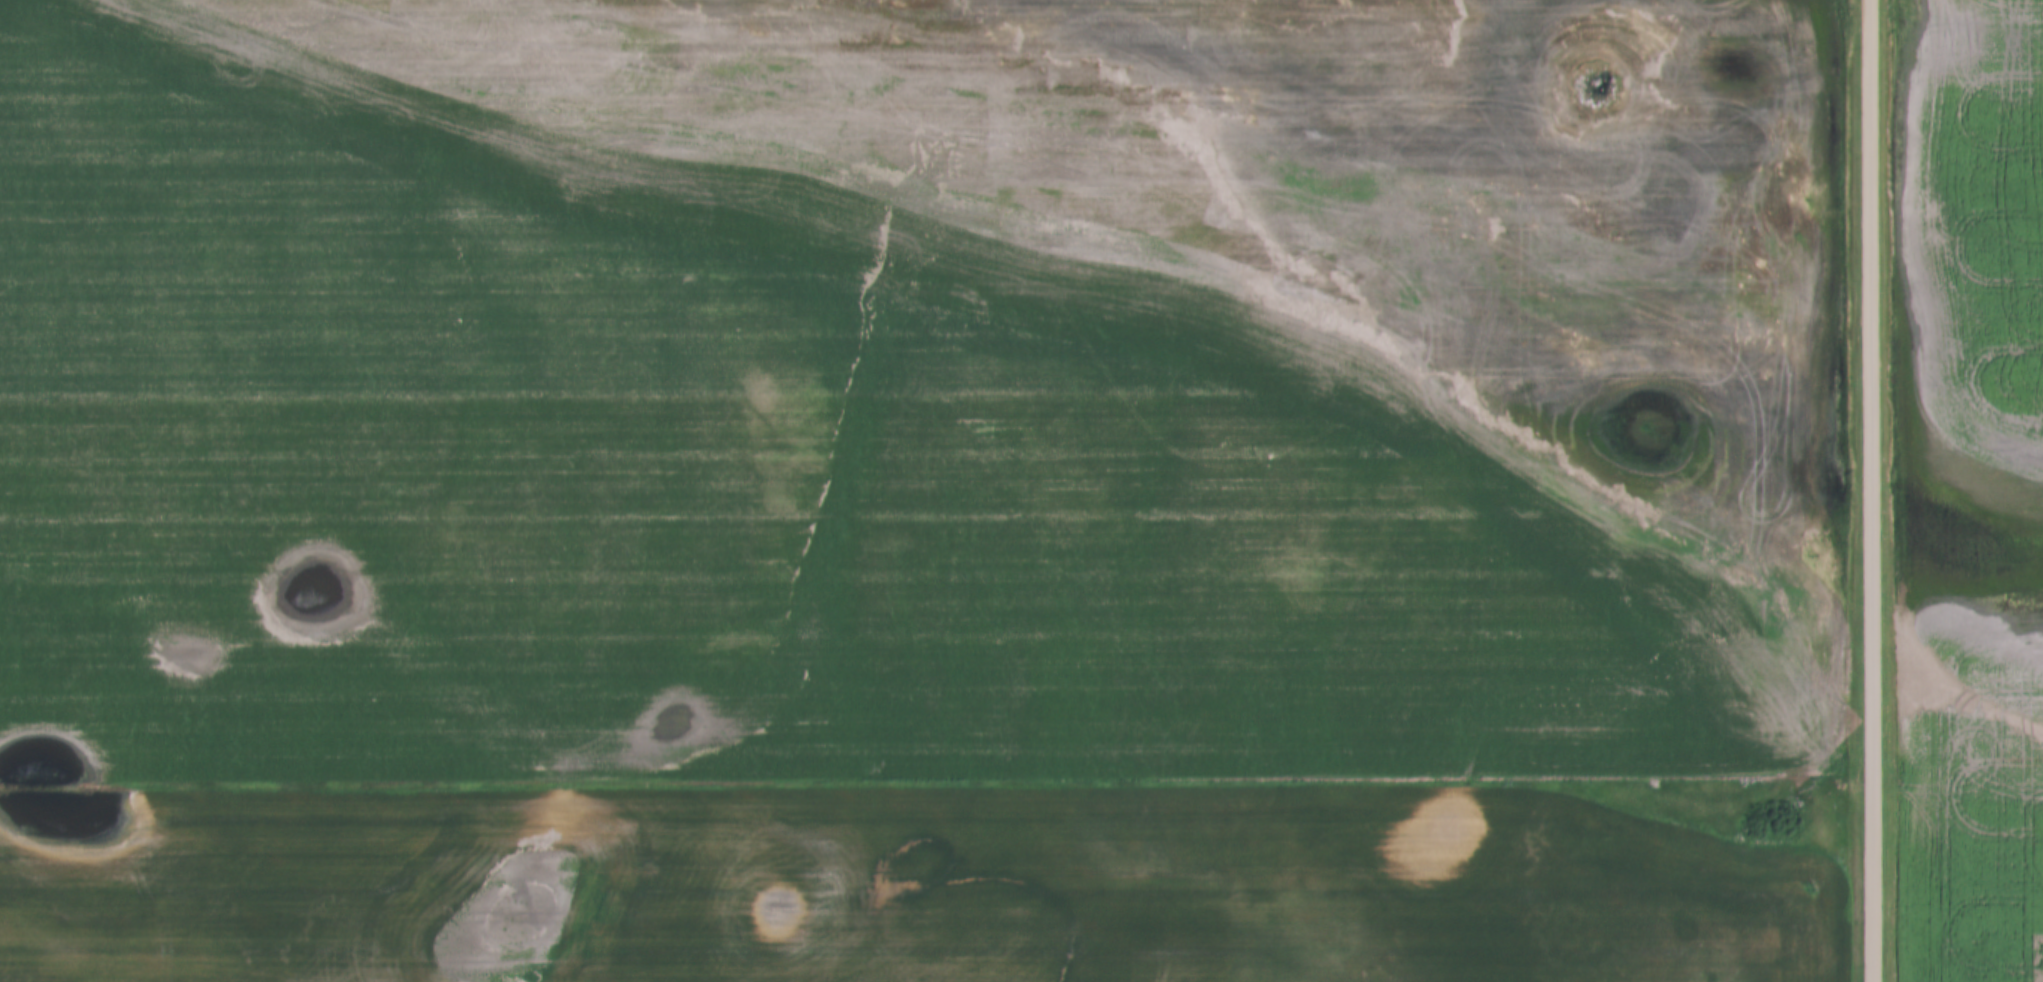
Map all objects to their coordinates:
road: (1870, 491)

